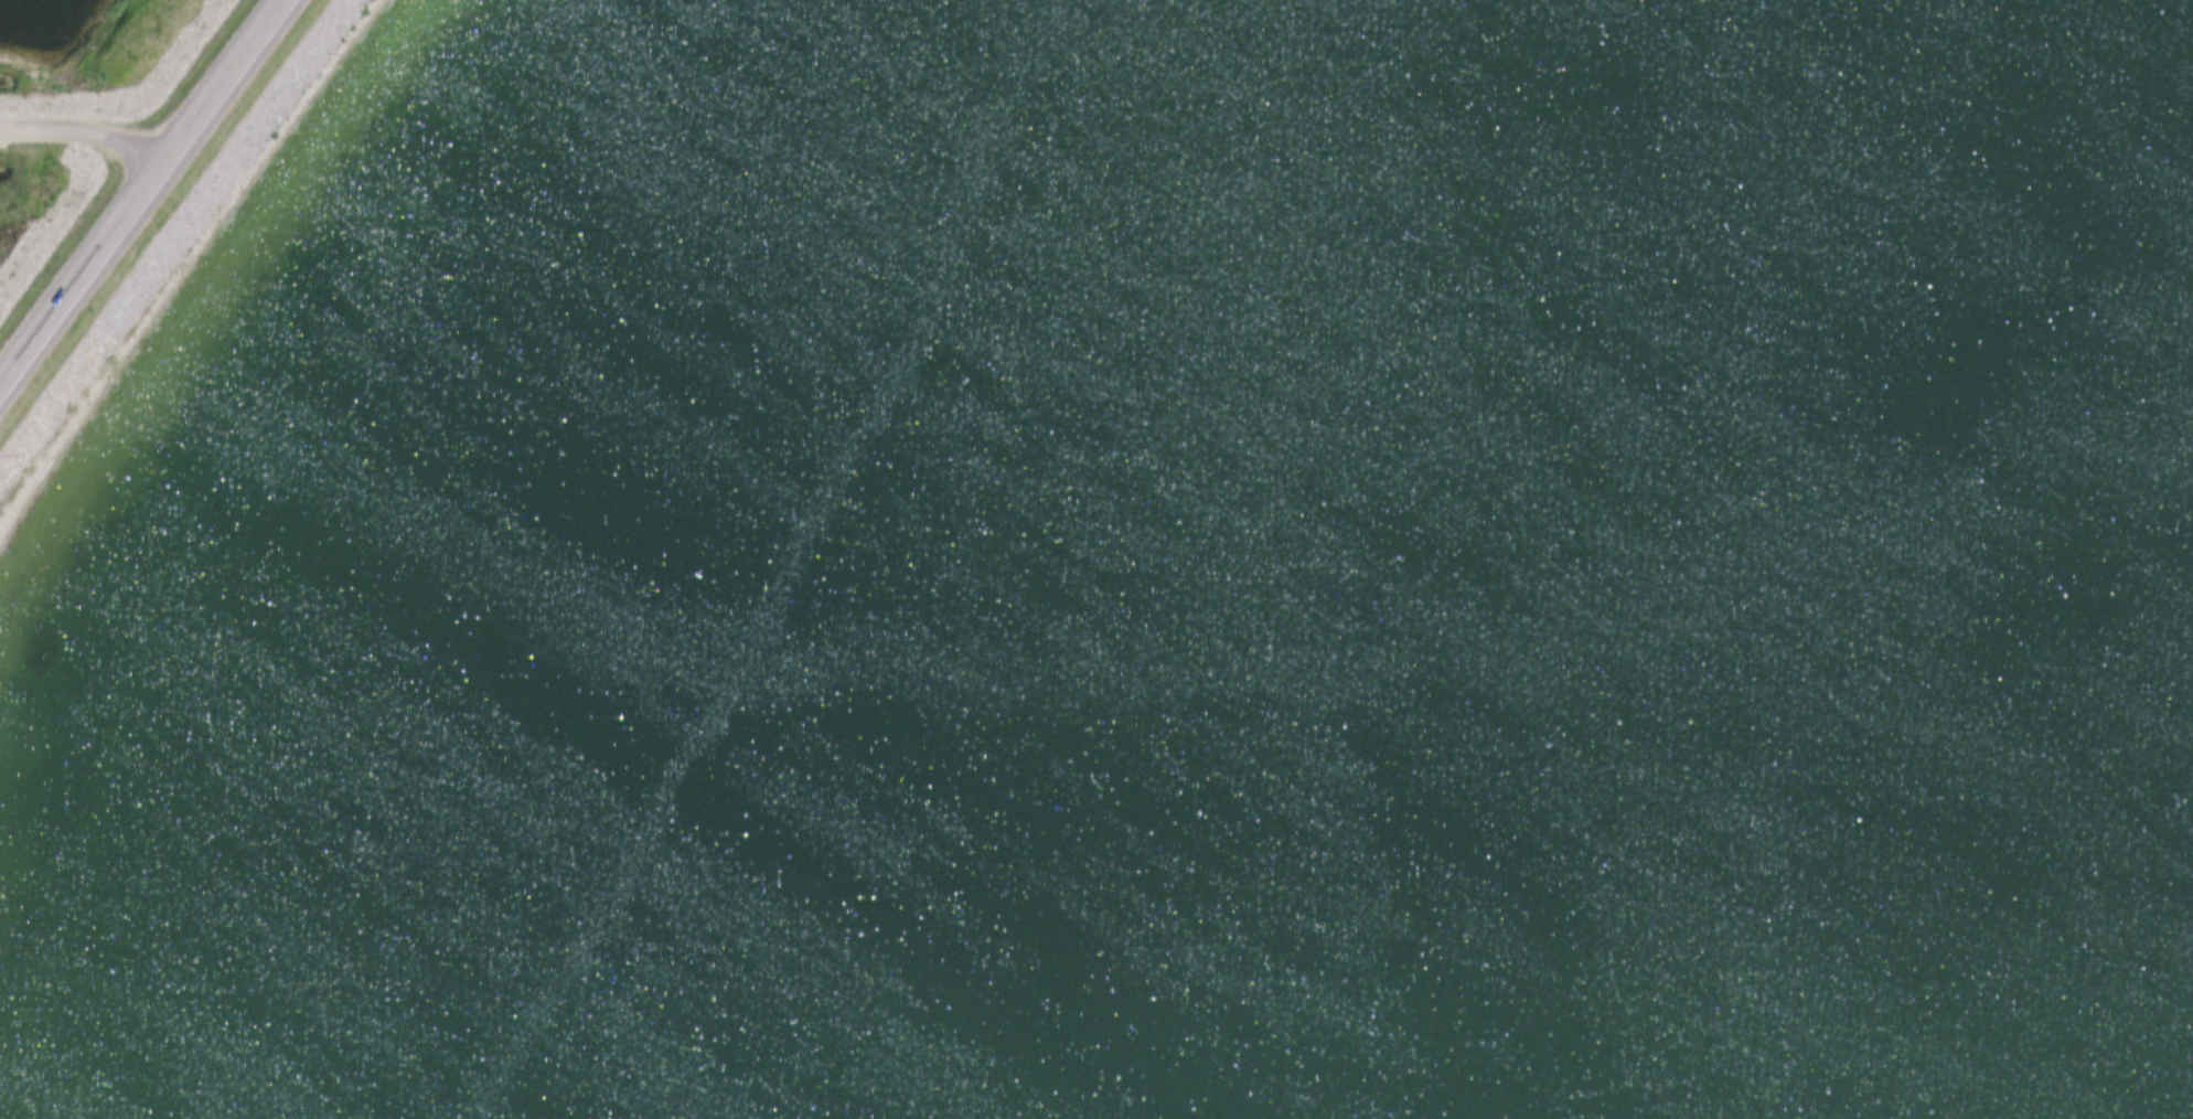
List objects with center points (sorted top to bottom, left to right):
road: (95, 128)
road: (149, 199)

